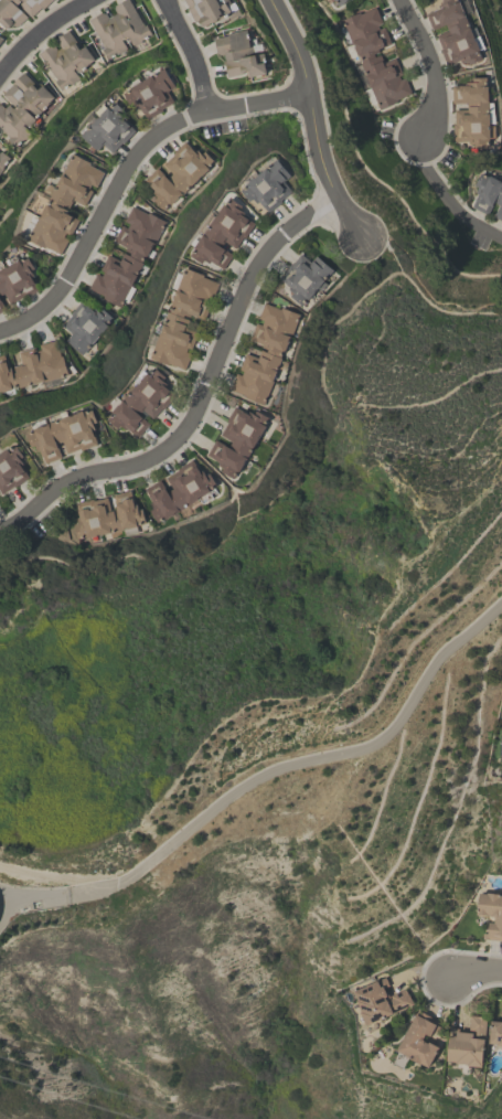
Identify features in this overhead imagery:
building: (338, 1)
building: (33, 6)
building: (209, 9)
building: (11, 12)
building: (118, 28)
road: (36, 30)
building: (456, 32)
building: (1, 39)
building: (239, 54)
road: (188, 55)
building: (375, 57)
building: (65, 58)
road: (427, 67)
building: (151, 93)
building: (21, 107)
building: (473, 113)
road: (317, 117)
building: (108, 128)
building: (3, 159)
road: (127, 172)
building: (177, 174)
building: (269, 185)
road: (438, 188)
building: (488, 195)
building: (65, 203)
building: (223, 234)
building: (127, 255)
building: (303, 276)
building: (17, 278)
building: (1, 307)
building: (182, 318)
building: (84, 326)
building: (264, 352)
building: (32, 366)
road: (202, 398)
building: (141, 402)
building: (64, 435)
building: (237, 439)
building: (10, 469)
building: (179, 490)
building: (107, 515)
building: (501, 744)
road: (270, 772)
road: (49, 872)
road: (3, 898)
road: (3, 910)
building: (491, 914)
road: (474, 968)
building: (380, 1001)
building: (495, 1033)
building: (417, 1041)
building: (467, 1045)

